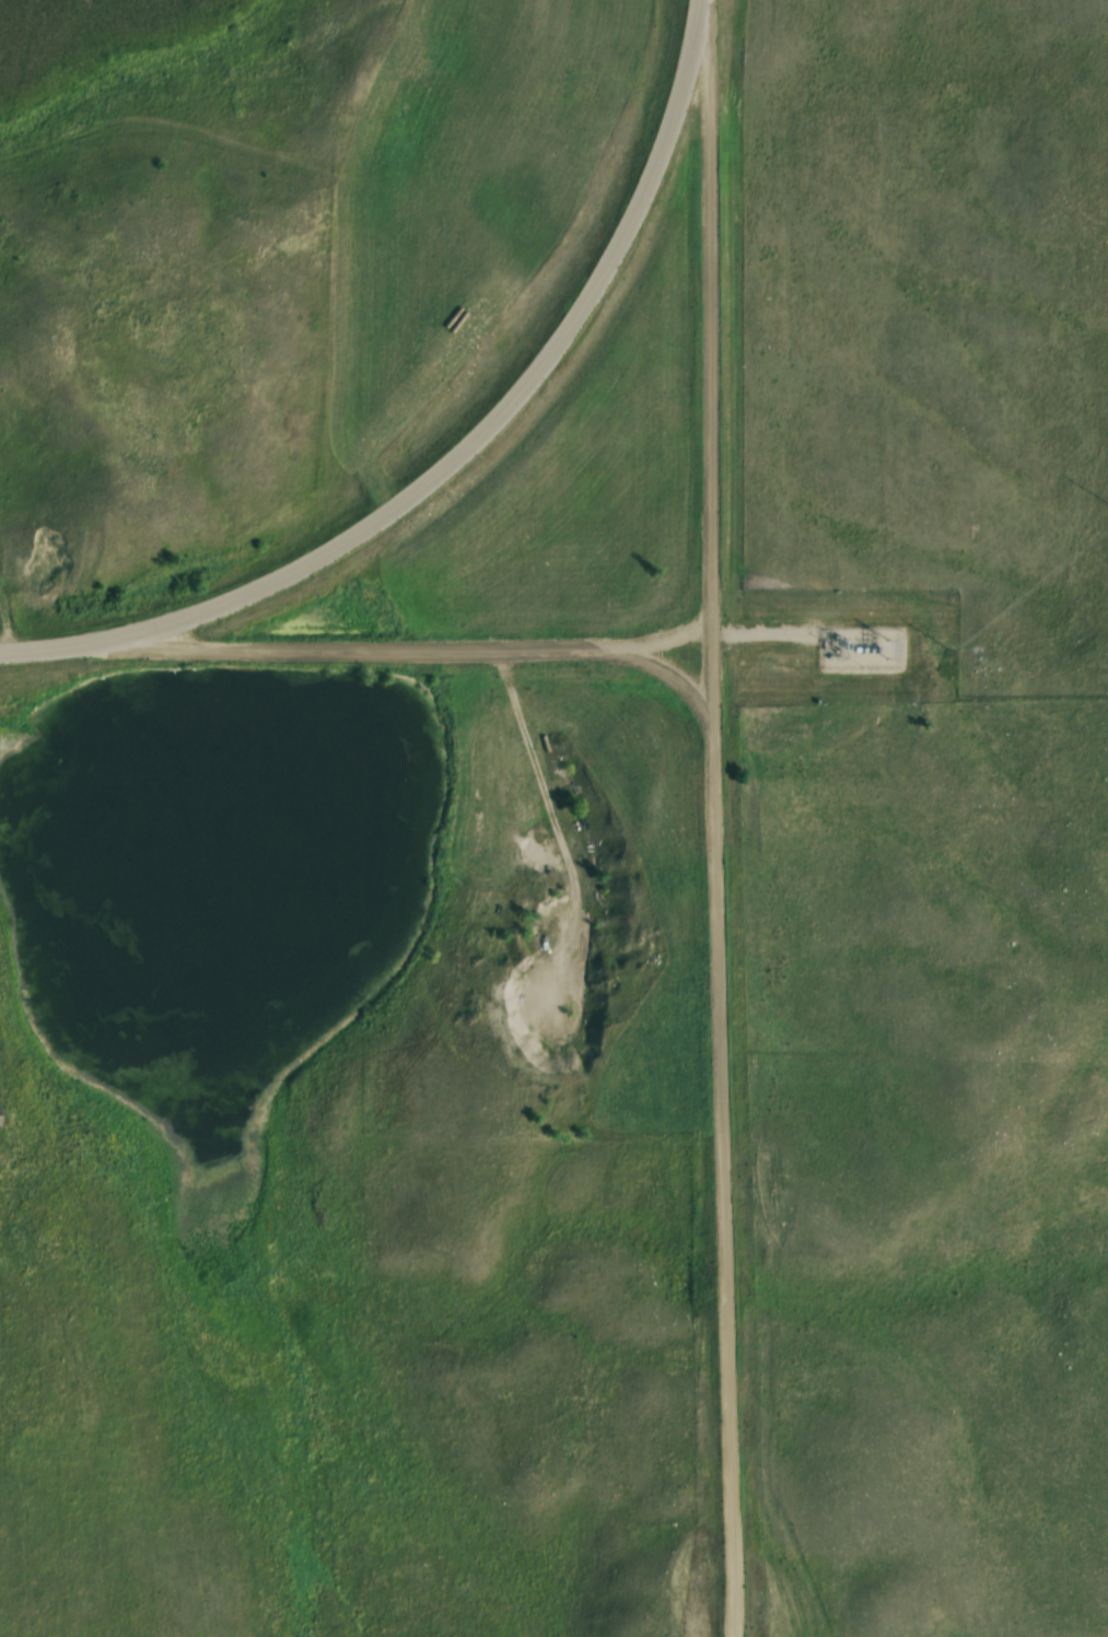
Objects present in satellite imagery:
road: (705, 14)
road: (719, 341)
road: (522, 405)
power tower: (1082, 540)
road: (762, 635)
power tower: (949, 643)
power substation: (860, 644)
road: (86, 646)
road: (440, 653)
building: (562, 927)
building: (0, 1114)
road: (733, 1146)

